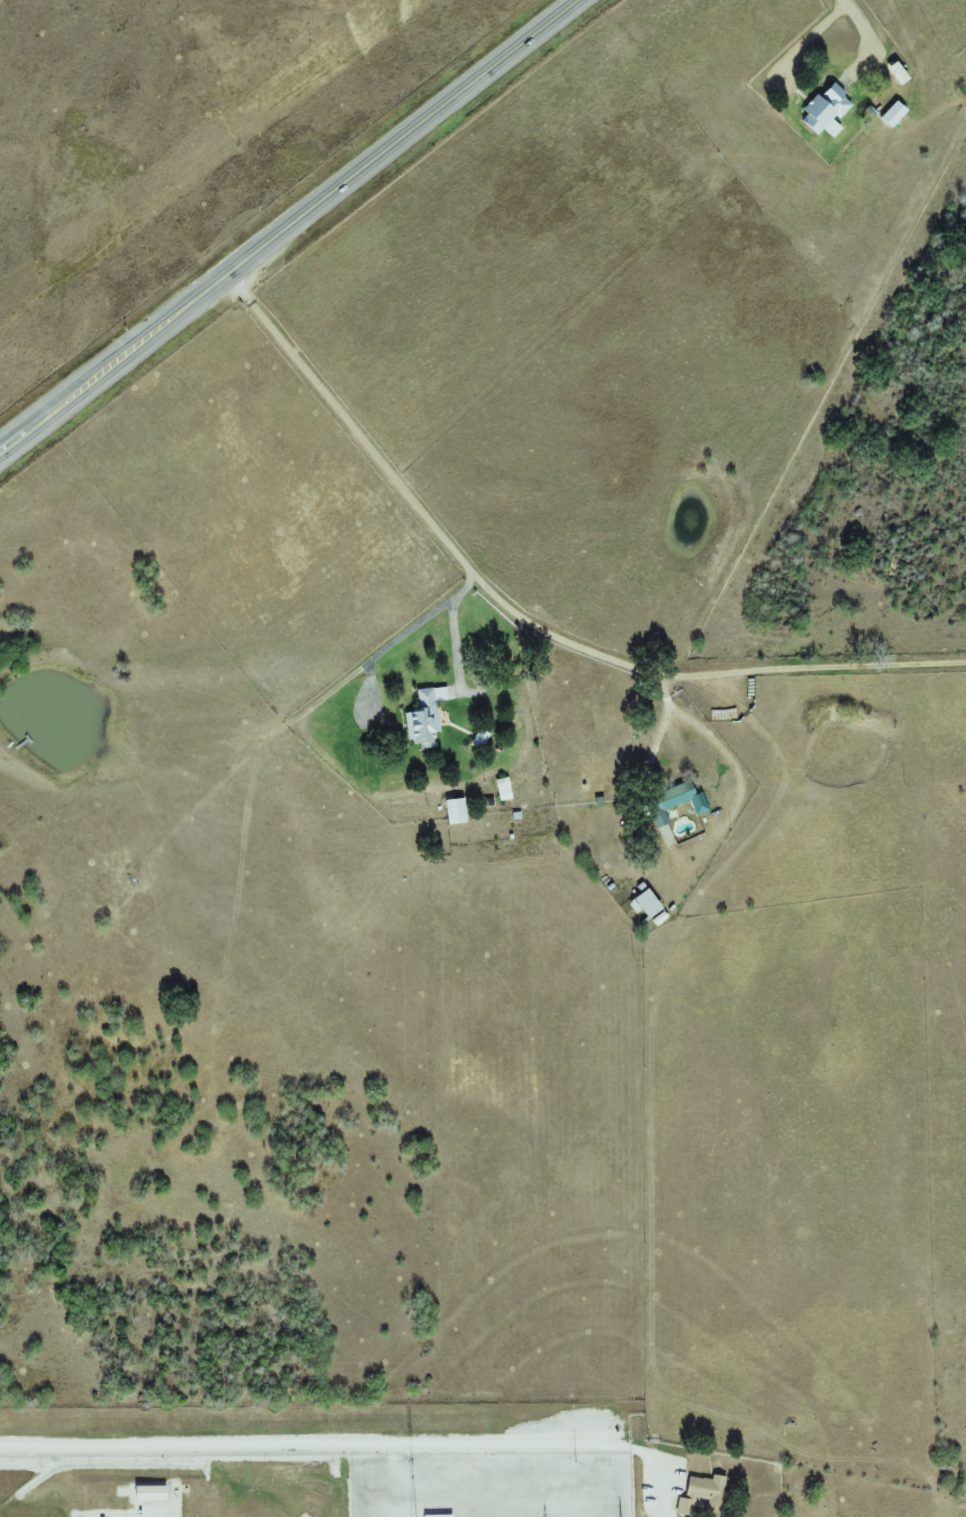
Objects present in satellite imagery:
road: (903, 57)
building: (900, 74)
building: (827, 111)
building: (895, 114)
road: (290, 224)
building: (427, 718)
building: (481, 739)
building: (505, 789)
building: (677, 797)
building: (457, 812)
building: (652, 908)
power substation: (491, 1485)
building: (153, 1492)
building: (702, 1494)
building: (440, 1516)

